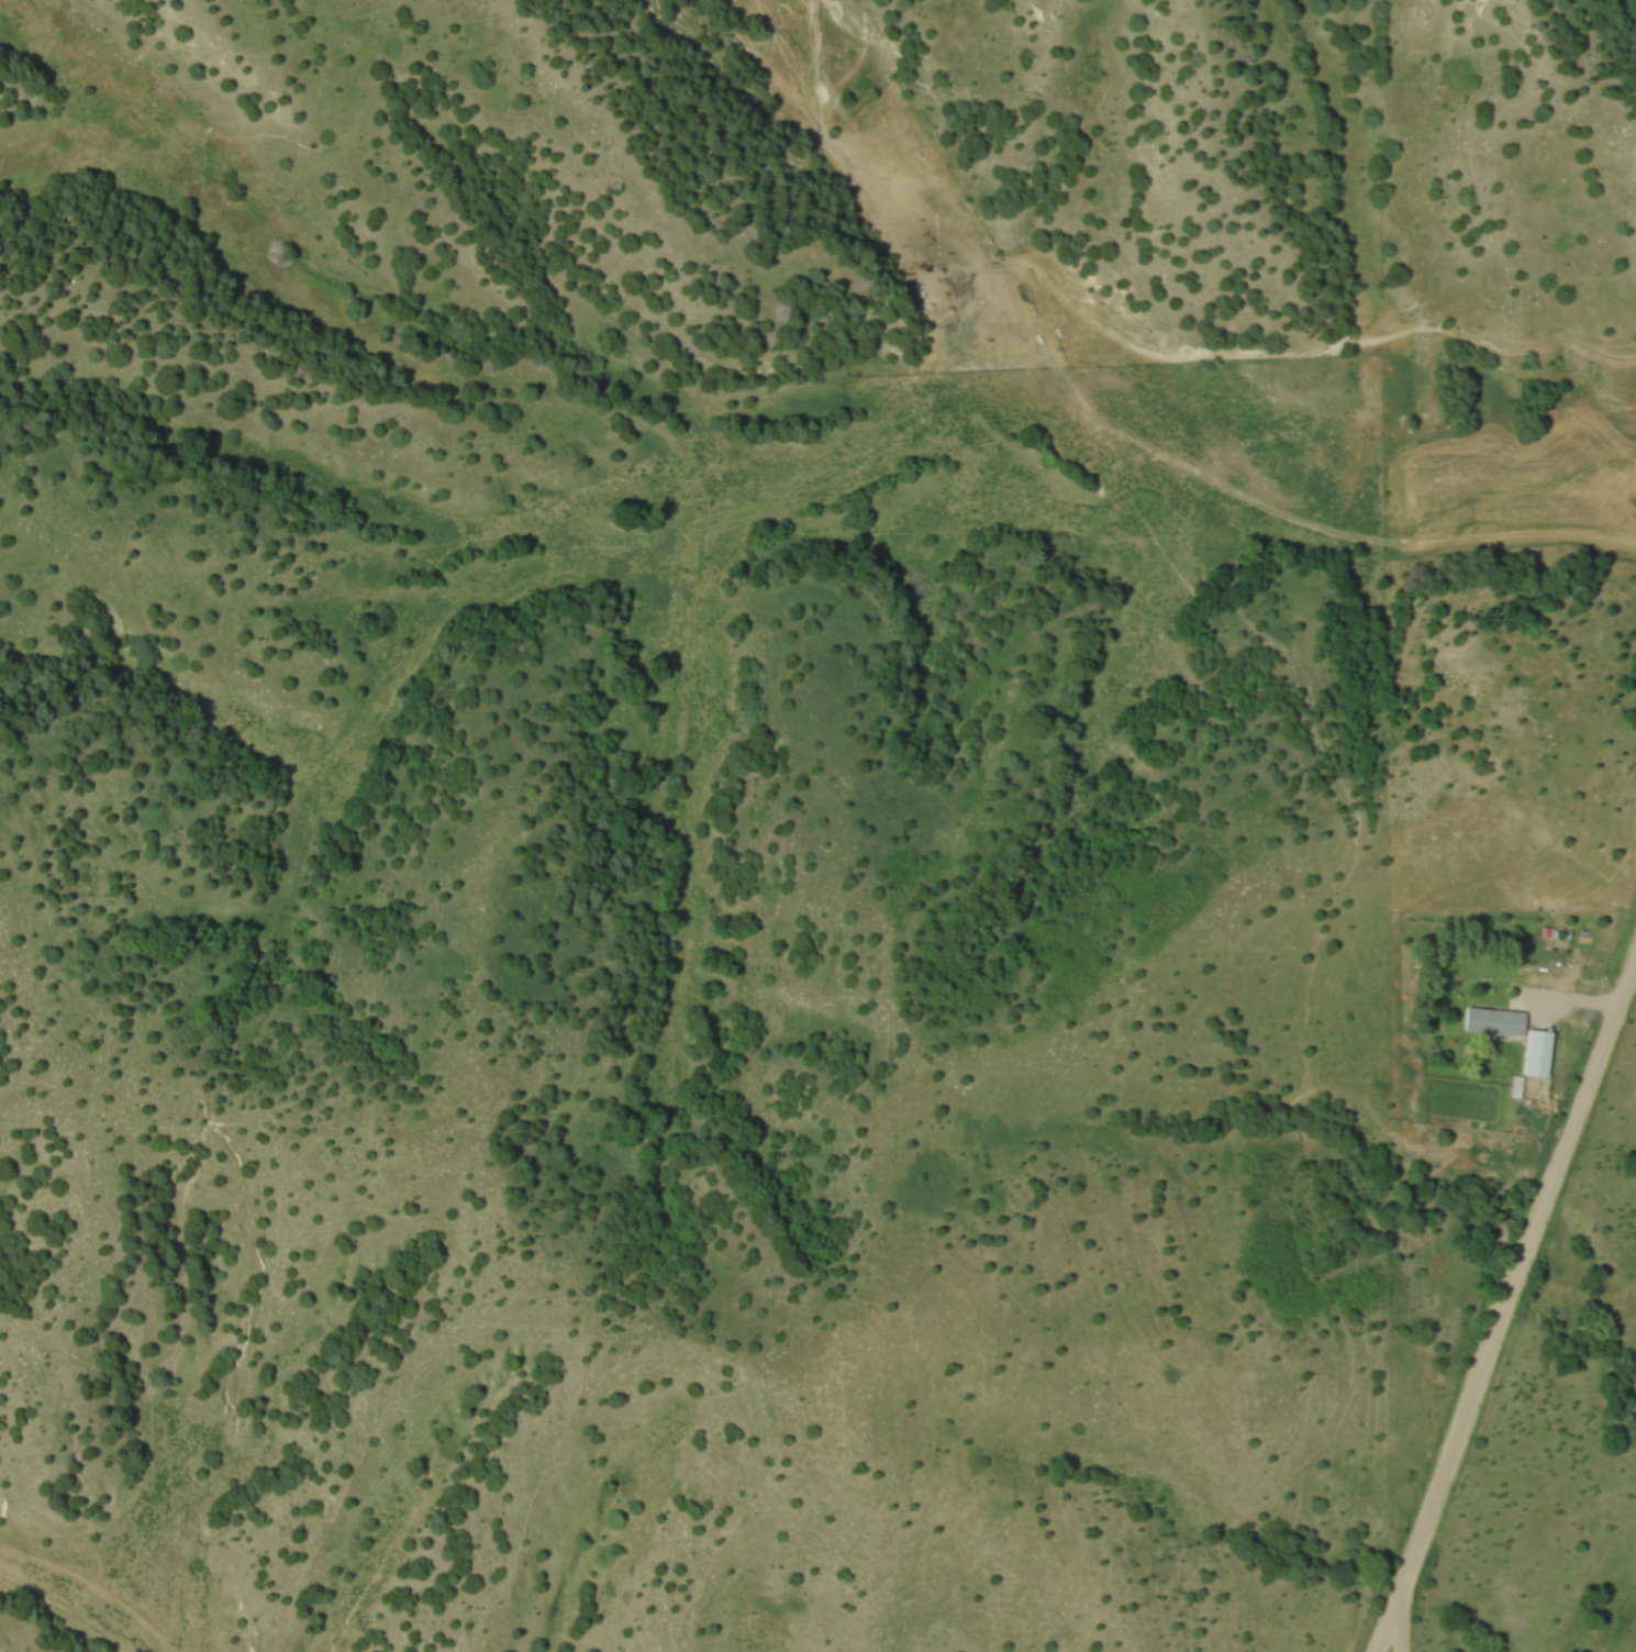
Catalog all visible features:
road: (1562, 996)
building: (1490, 1019)
building: (1535, 1051)
building: (1515, 1084)
road: (1505, 1298)
road: (1400, 1617)

